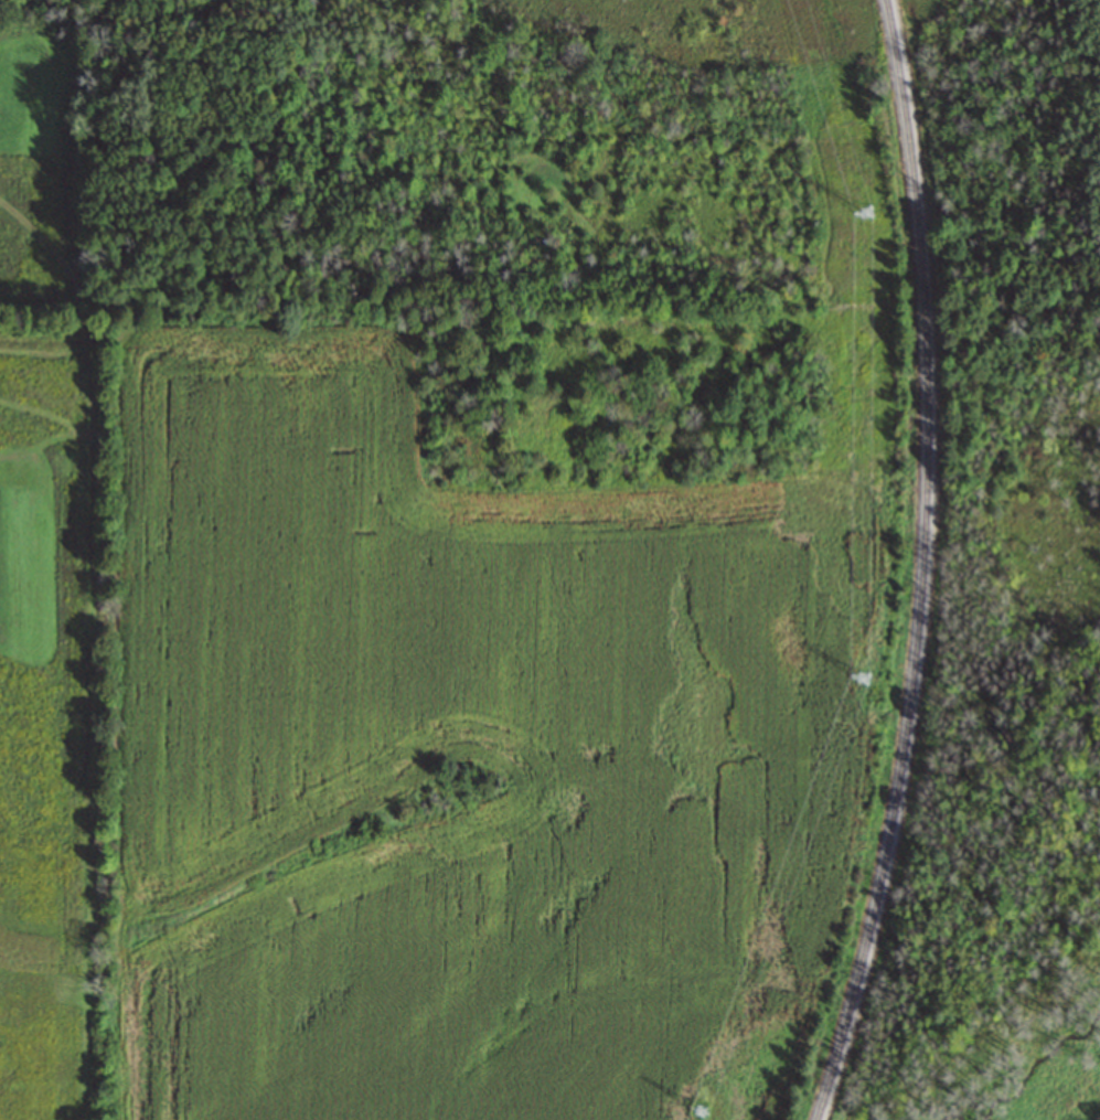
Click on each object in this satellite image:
railway: (932, 564)

